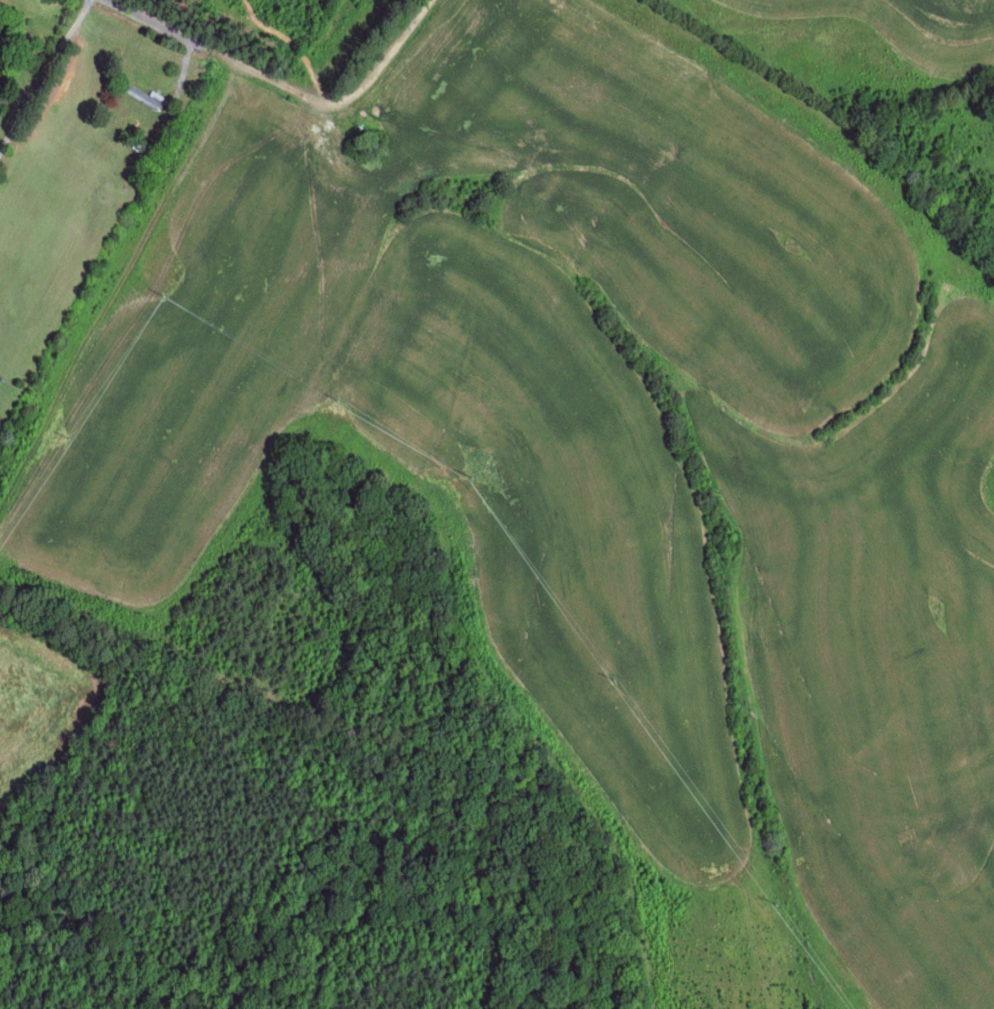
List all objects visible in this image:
building: (1, 58)
road: (42, 78)
road: (283, 87)
building: (144, 96)
road: (338, 102)

